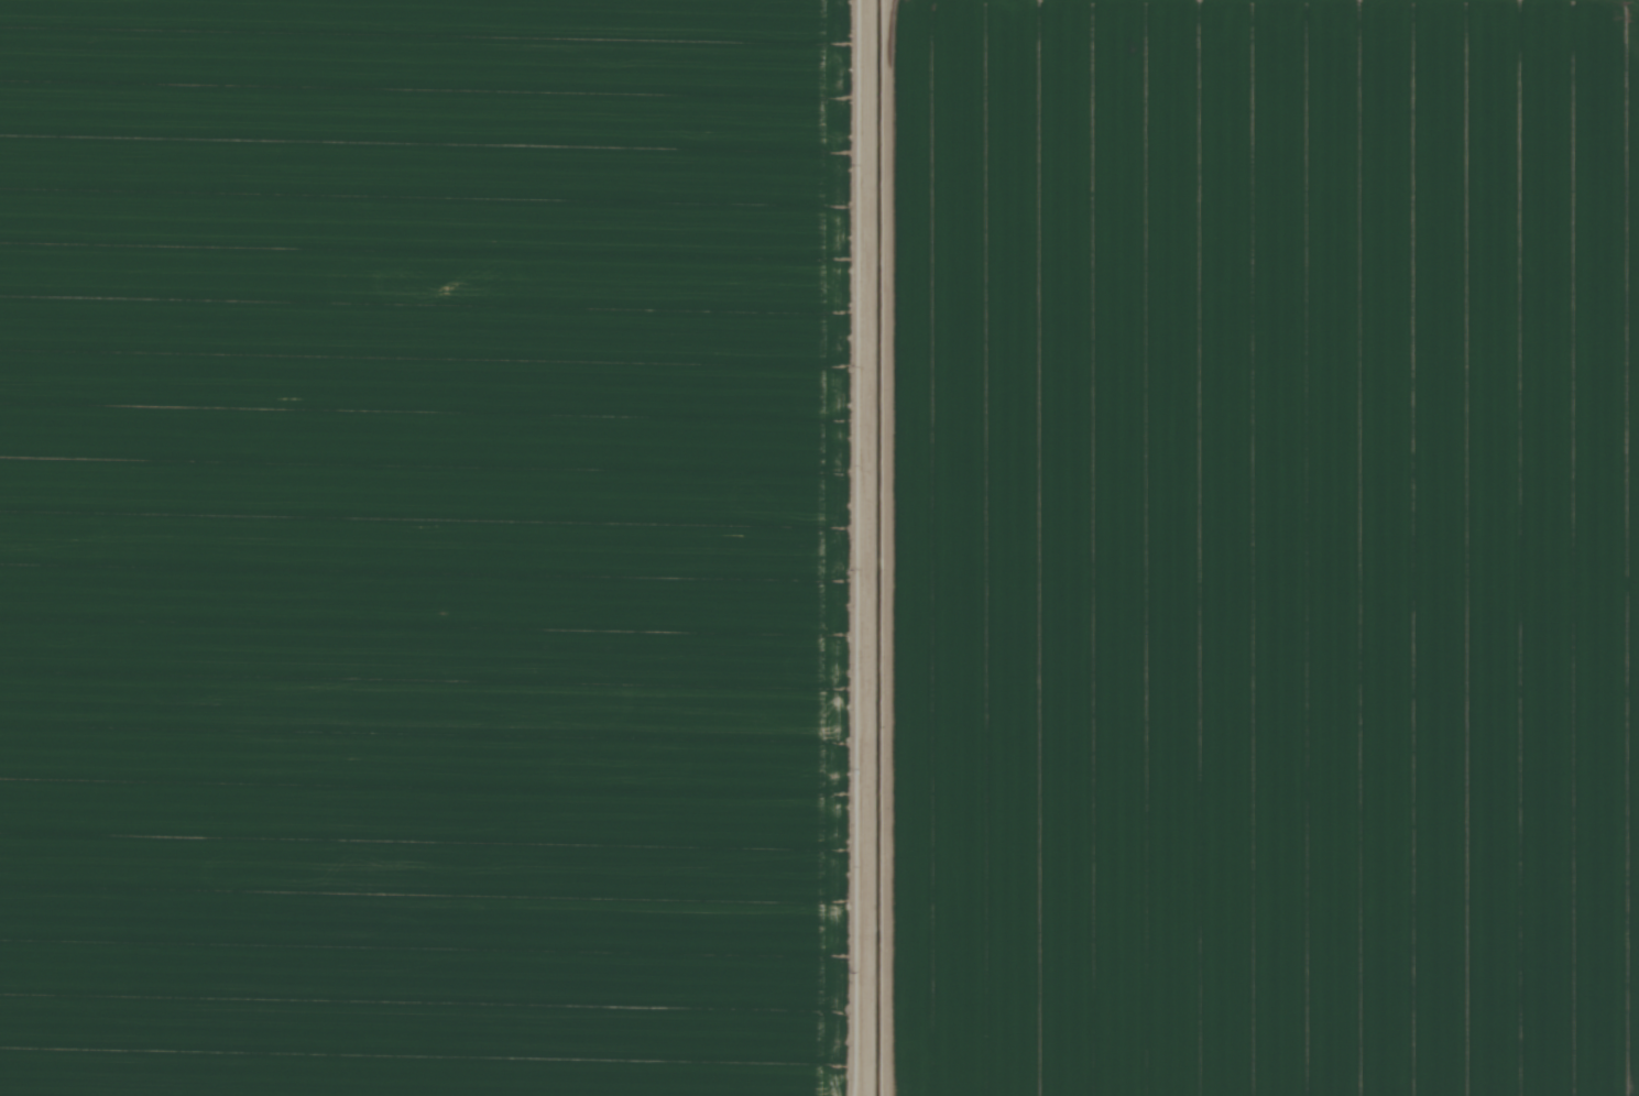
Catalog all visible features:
building: (270, 2)
building: (564, 211)
building: (151, 232)
crop: (426, 547)
crop: (1266, 548)
building: (696, 708)
building: (286, 793)
building: (113, 913)
building: (218, 929)
building: (236, 932)

